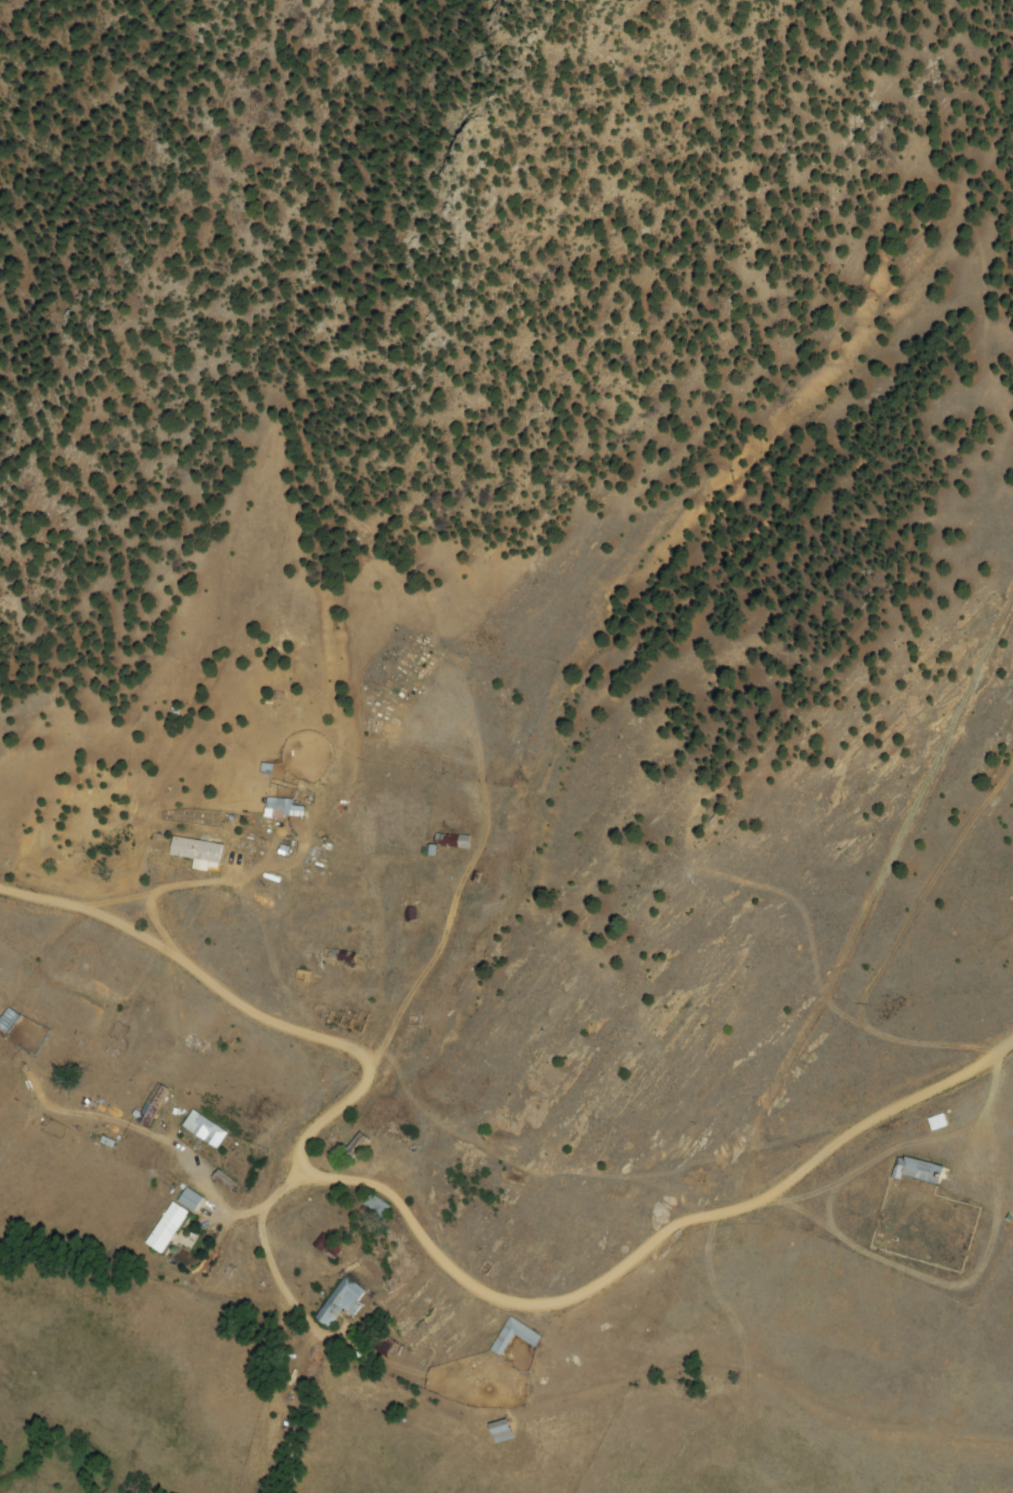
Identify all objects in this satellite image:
building: (282, 808)
building: (451, 840)
building: (196, 853)
building: (10, 1016)
building: (151, 1104)
building: (936, 1122)
building: (203, 1129)
building: (357, 1146)
building: (916, 1170)
building: (189, 1199)
building: (374, 1205)
building: (166, 1227)
building: (327, 1248)
road: (453, 1252)
building: (340, 1302)
building: (501, 1342)
building: (499, 1432)

